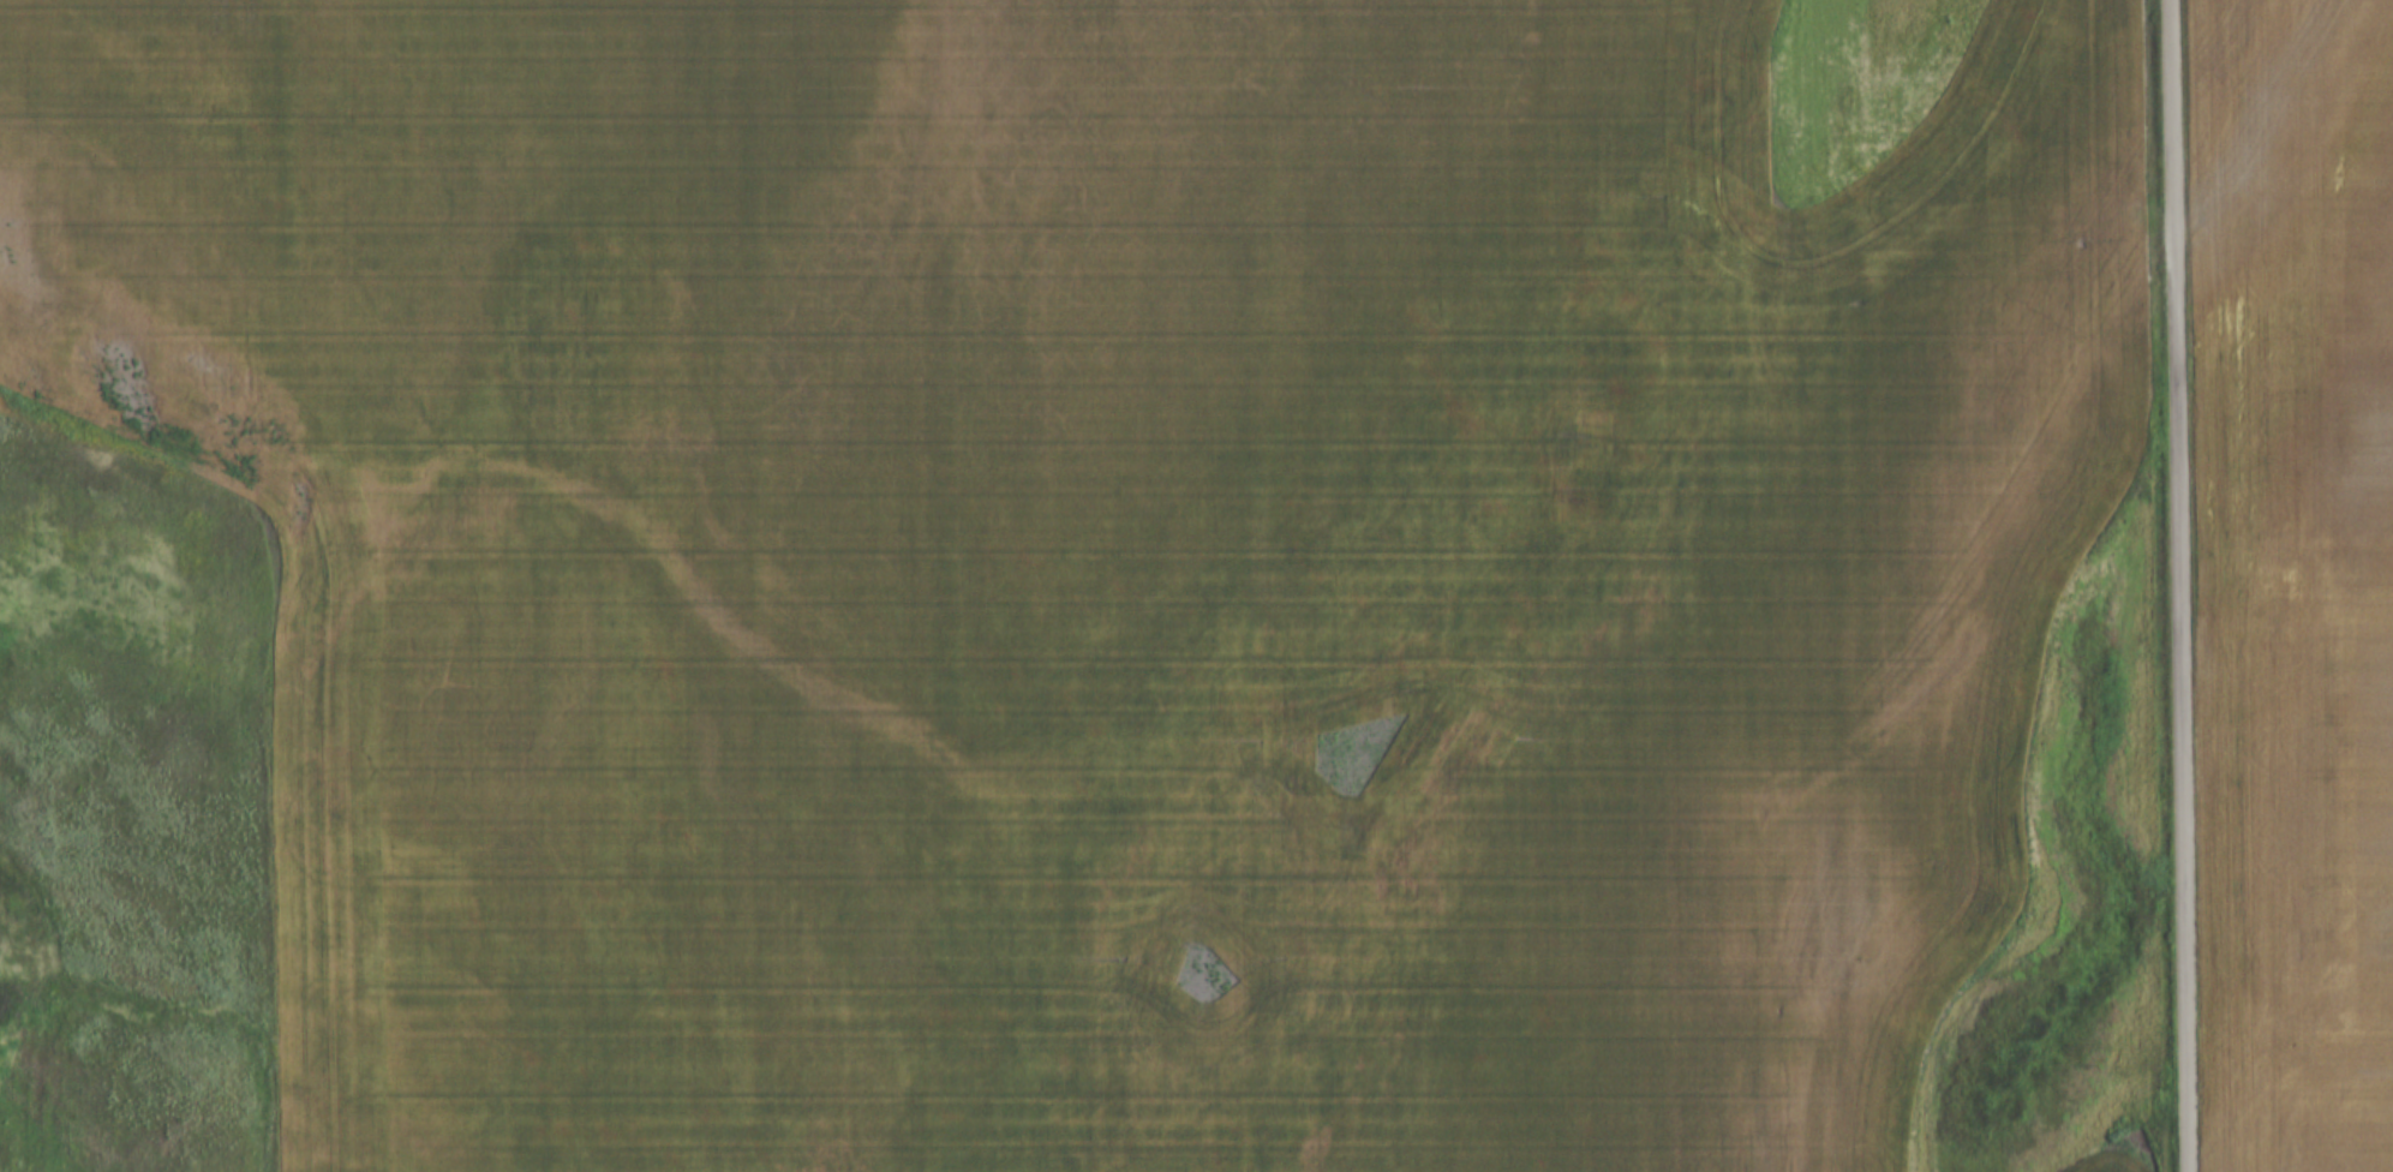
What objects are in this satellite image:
road: (2180, 585)

